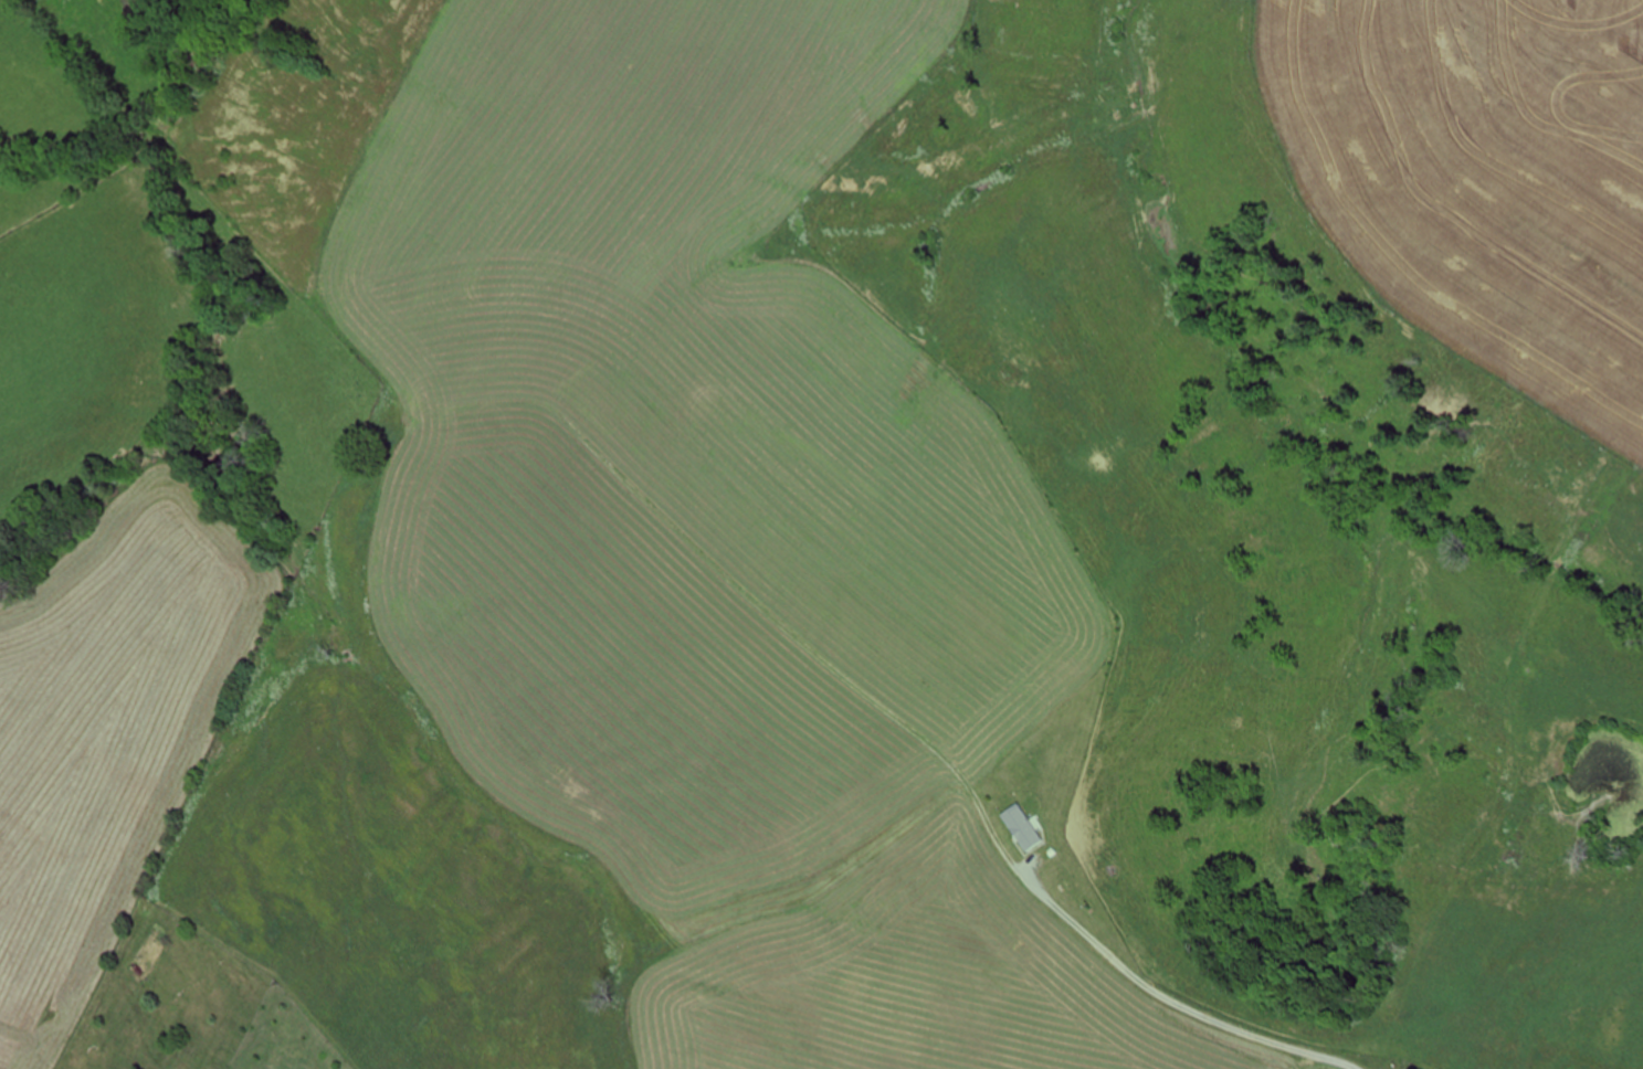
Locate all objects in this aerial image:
building: (1033, 828)
road: (1257, 1024)

